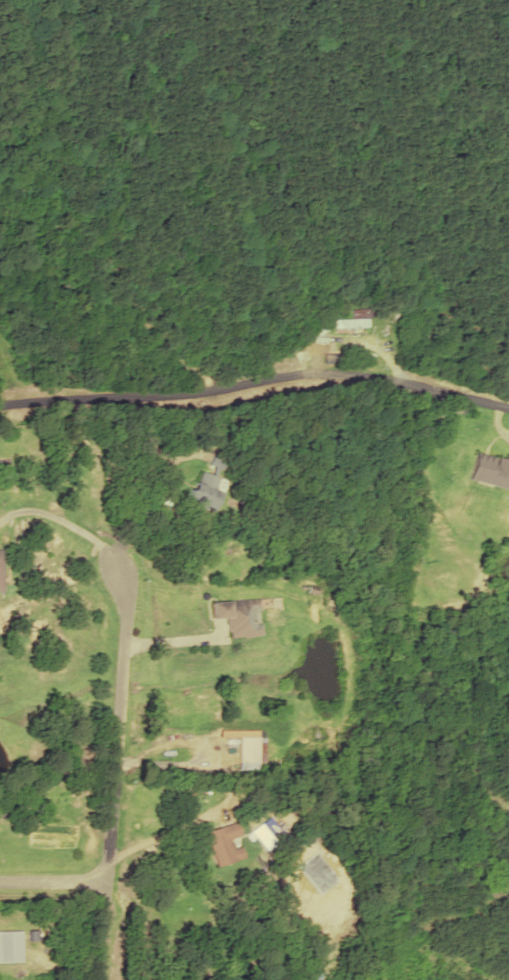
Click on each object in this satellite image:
building: (359, 316)
building: (27, 369)
road: (256, 380)
building: (491, 470)
building: (205, 490)
building: (0, 568)
building: (238, 615)
building: (248, 751)
road: (114, 768)
building: (222, 843)
road: (52, 879)
building: (9, 946)

